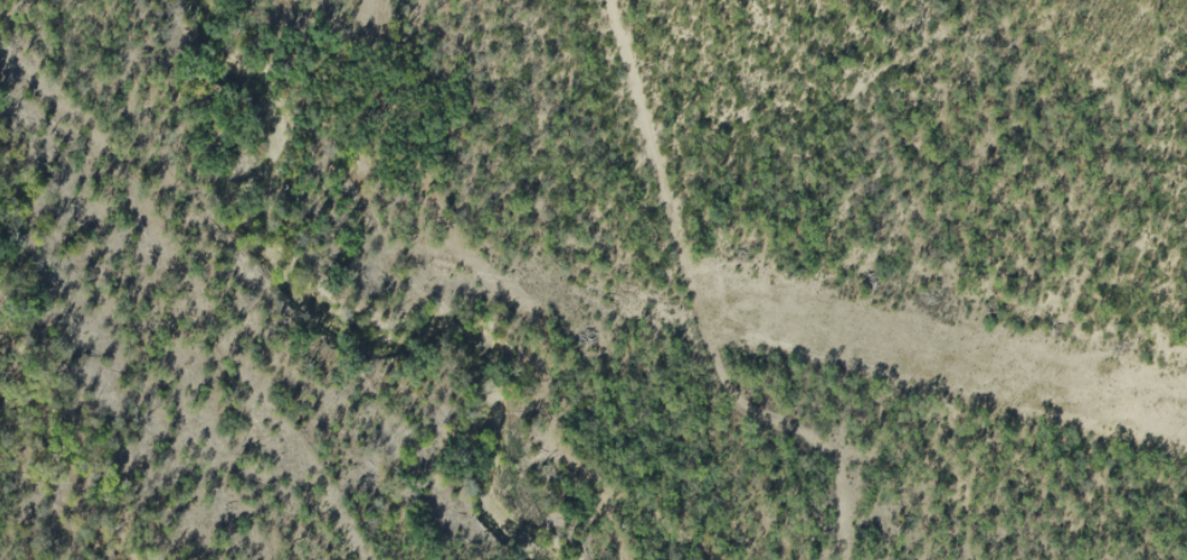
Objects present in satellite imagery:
river: (331, 308)

